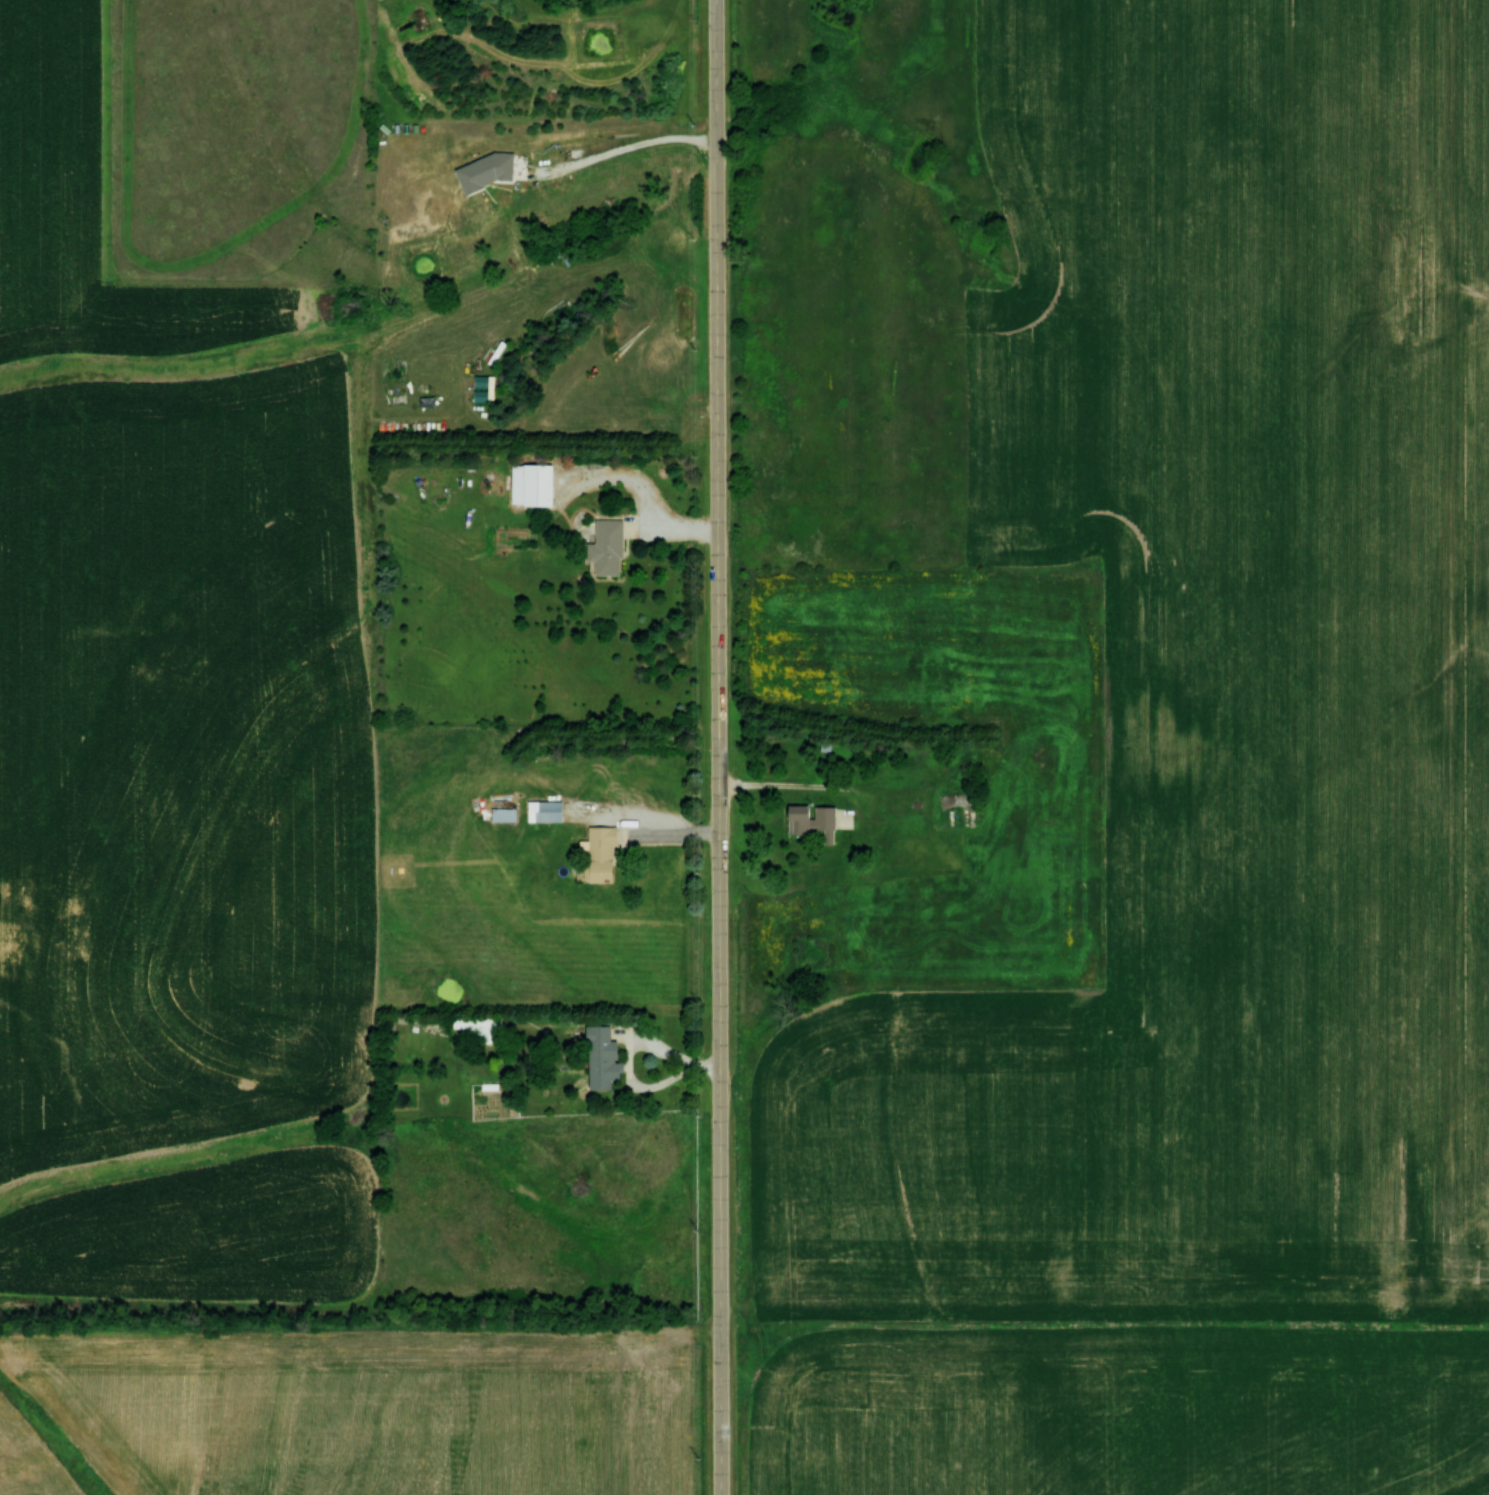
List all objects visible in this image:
road: (624, 138)
building: (528, 484)
road: (677, 525)
building: (604, 548)
road: (717, 747)
road: (799, 788)
building: (541, 810)
building: (502, 813)
building: (846, 818)
building: (811, 820)
building: (595, 855)
building: (474, 1027)
building: (600, 1059)

